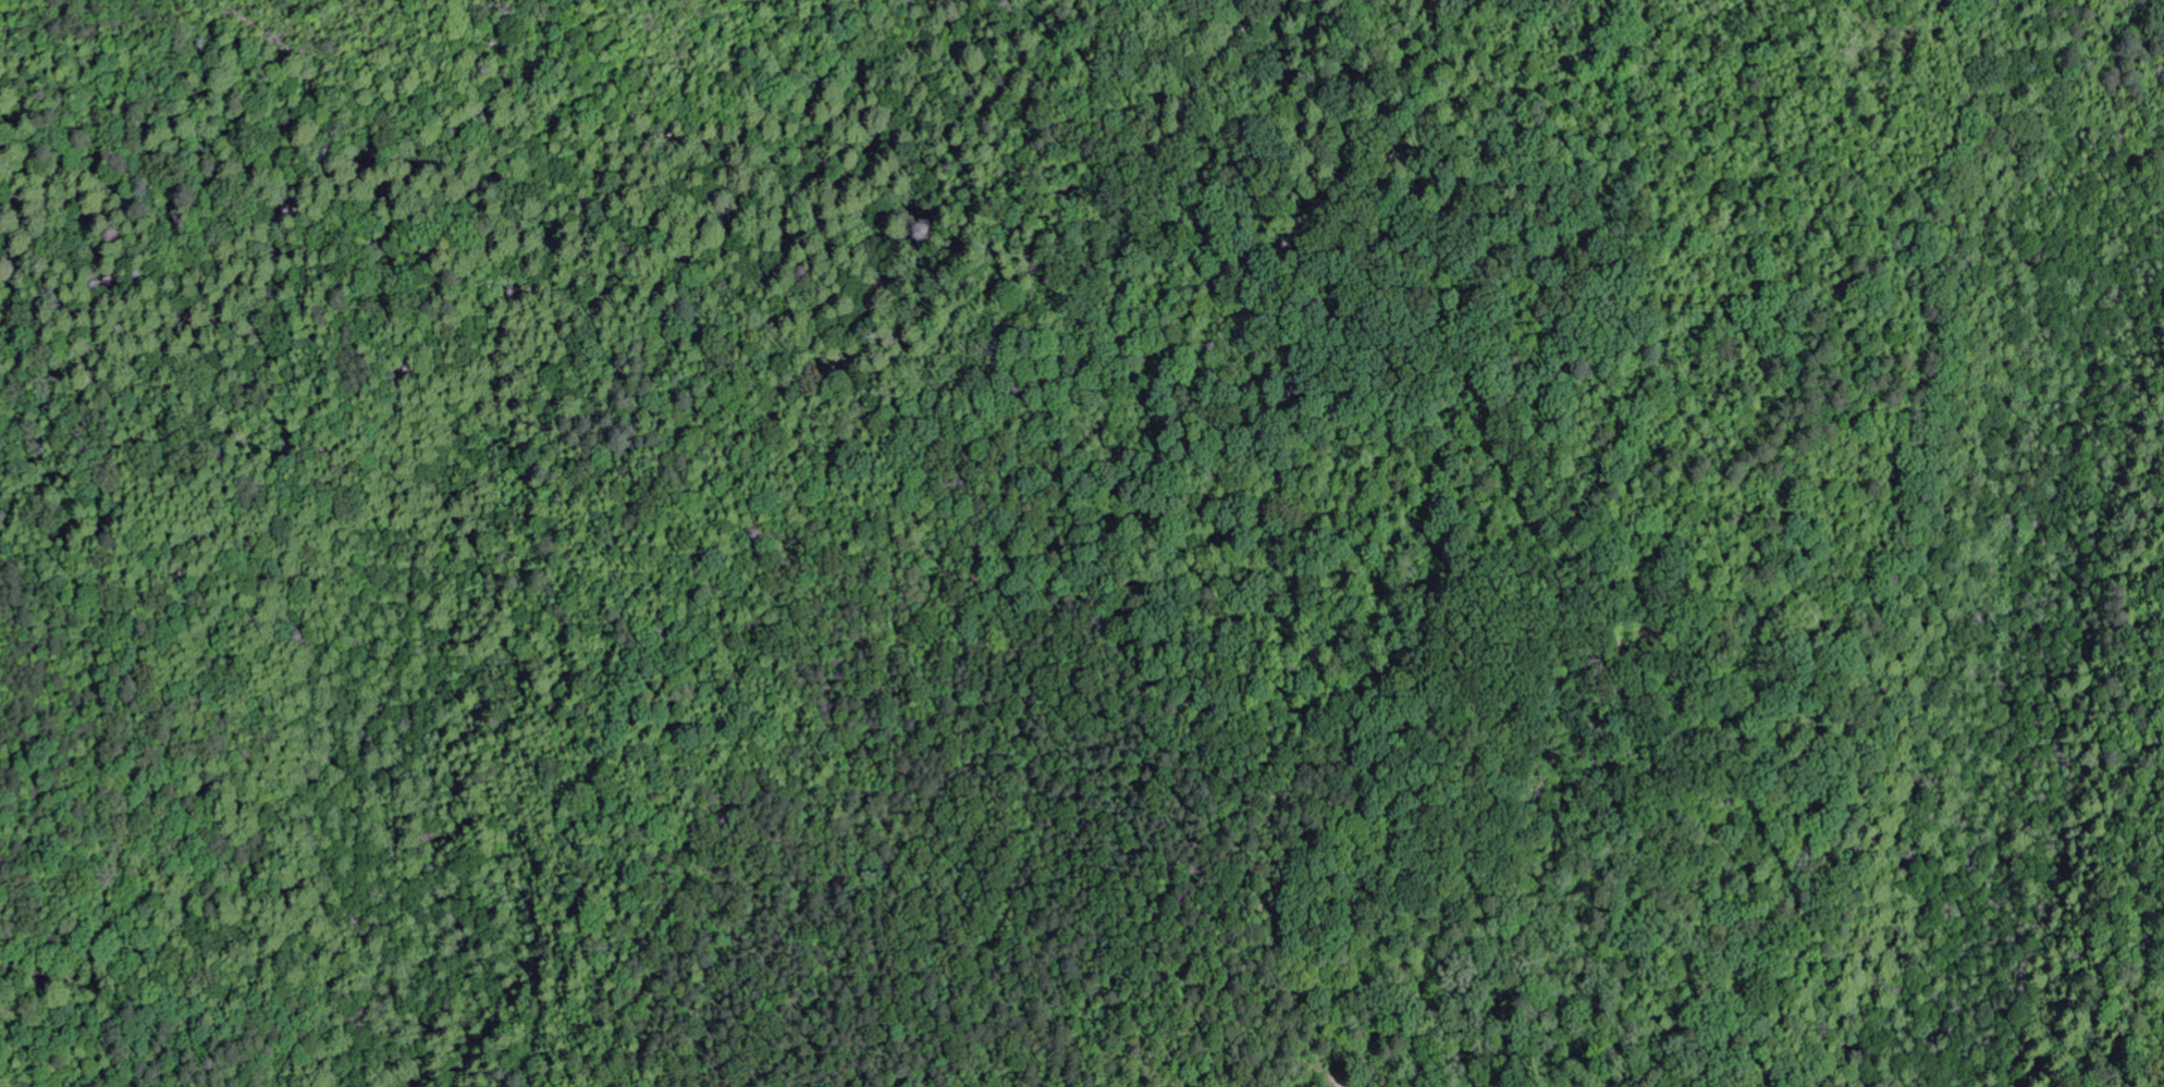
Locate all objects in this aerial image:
river: (782, 155)
river: (432, 655)
road: (1342, 1085)

